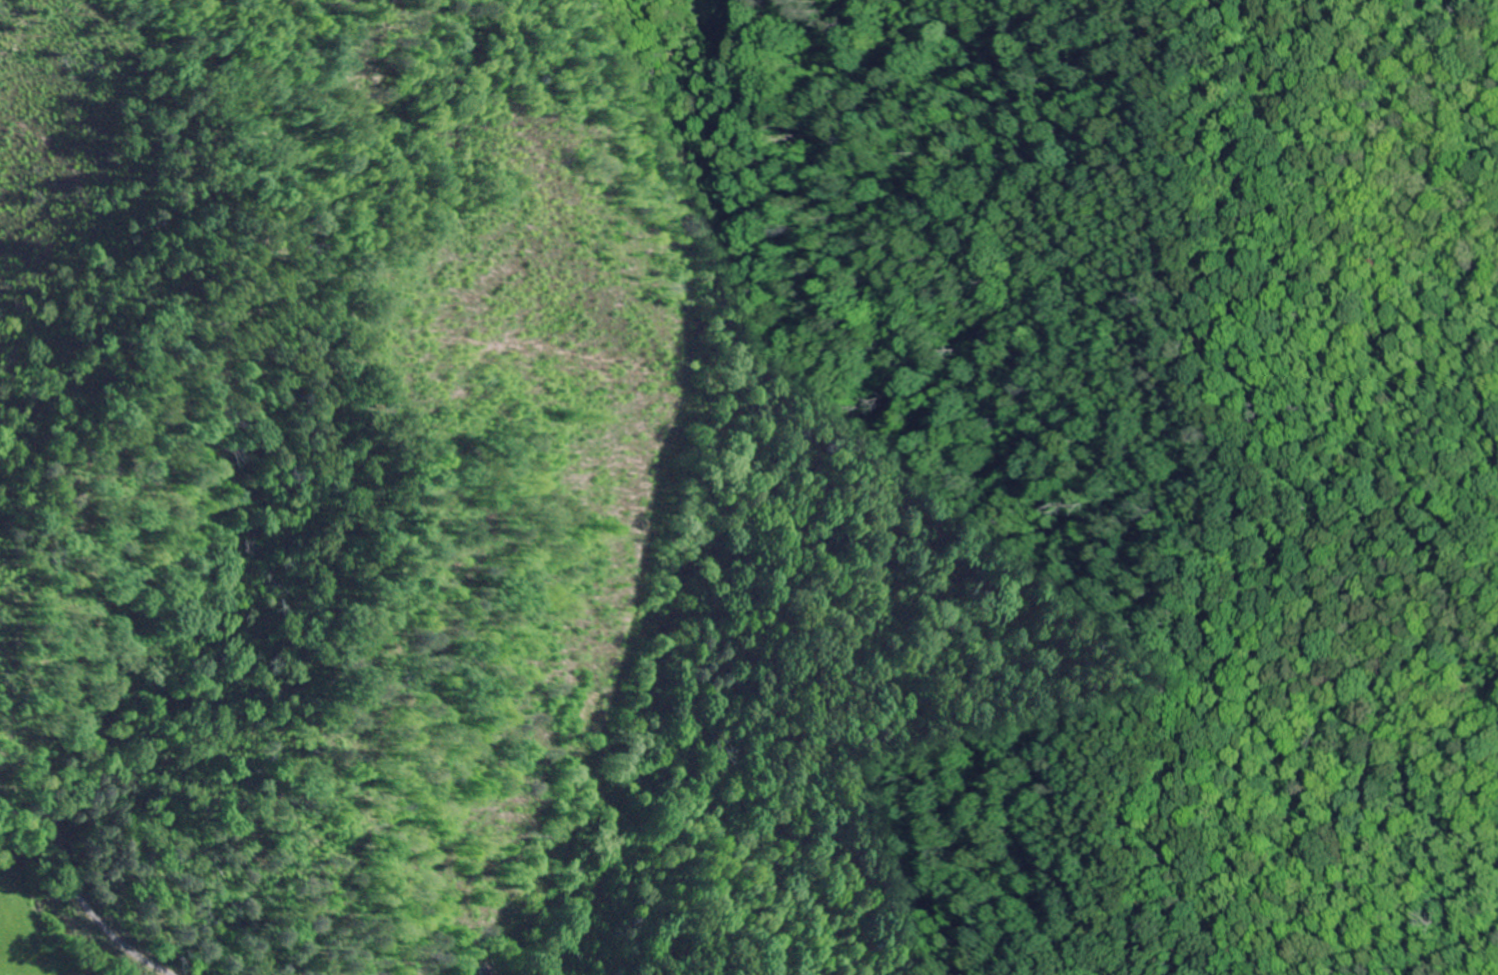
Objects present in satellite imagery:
road: (661, 494)
road: (77, 895)

